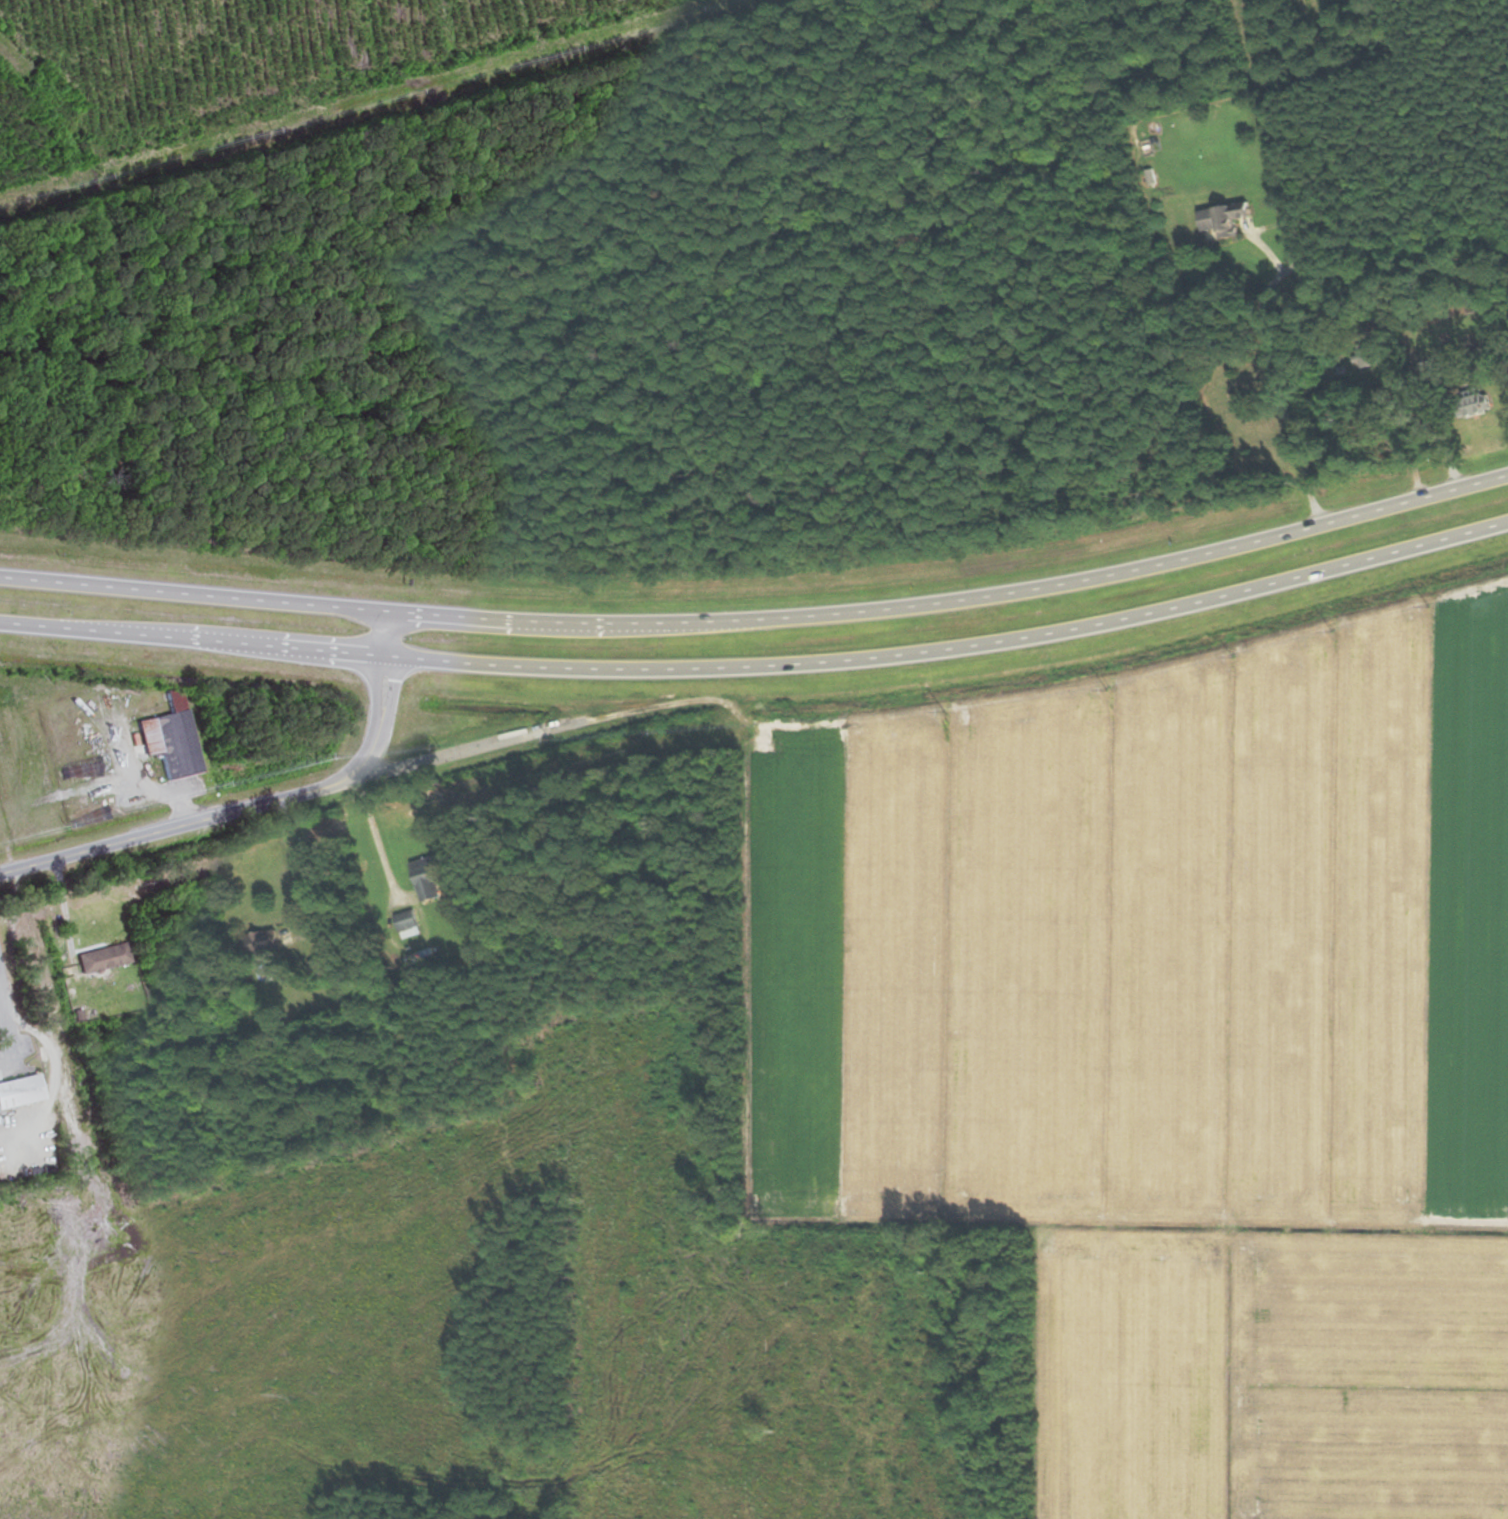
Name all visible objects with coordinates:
building: (1224, 217)
road: (1262, 321)
building: (1369, 356)
building: (1470, 402)
road: (1240, 542)
road: (191, 594)
road: (676, 620)
road: (191, 641)
road: (952, 645)
building: (168, 737)
road: (260, 804)
road: (376, 832)
road: (299, 864)
building: (430, 875)
building: (408, 924)
building: (261, 943)
building: (101, 958)
road: (34, 960)
building: (324, 968)
road: (51, 1057)
building: (18, 1090)

